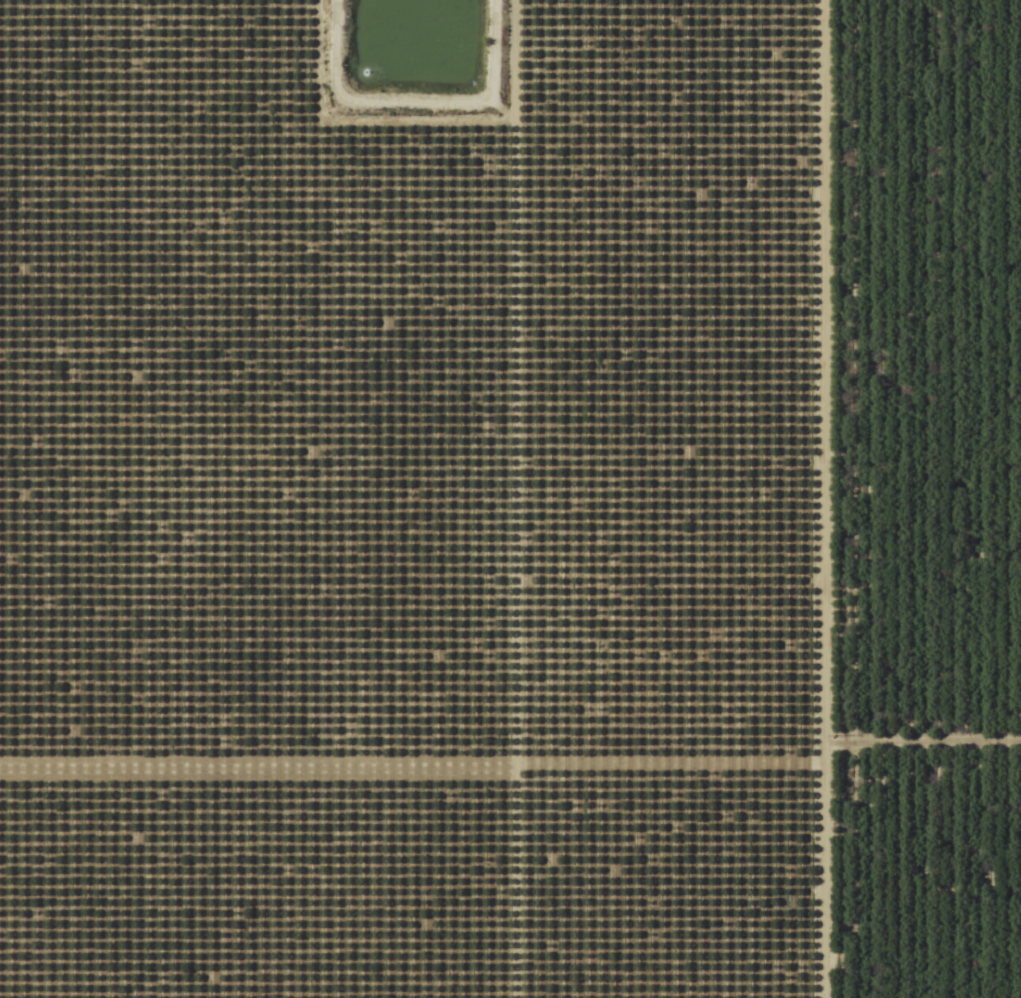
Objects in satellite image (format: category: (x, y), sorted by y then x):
road: (815, 499)
road: (256, 760)

